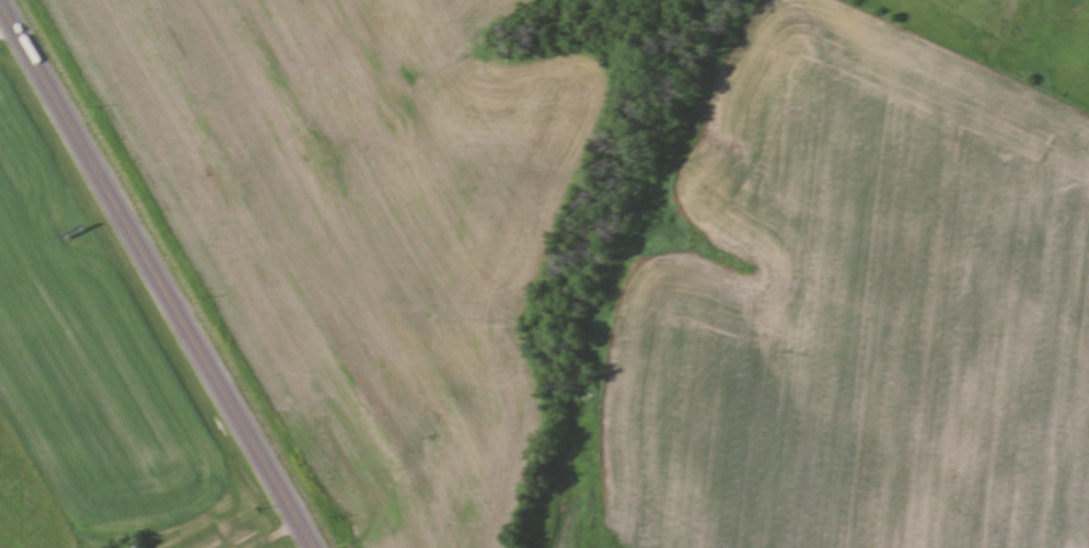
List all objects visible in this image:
road: (163, 272)
road: (266, 529)

